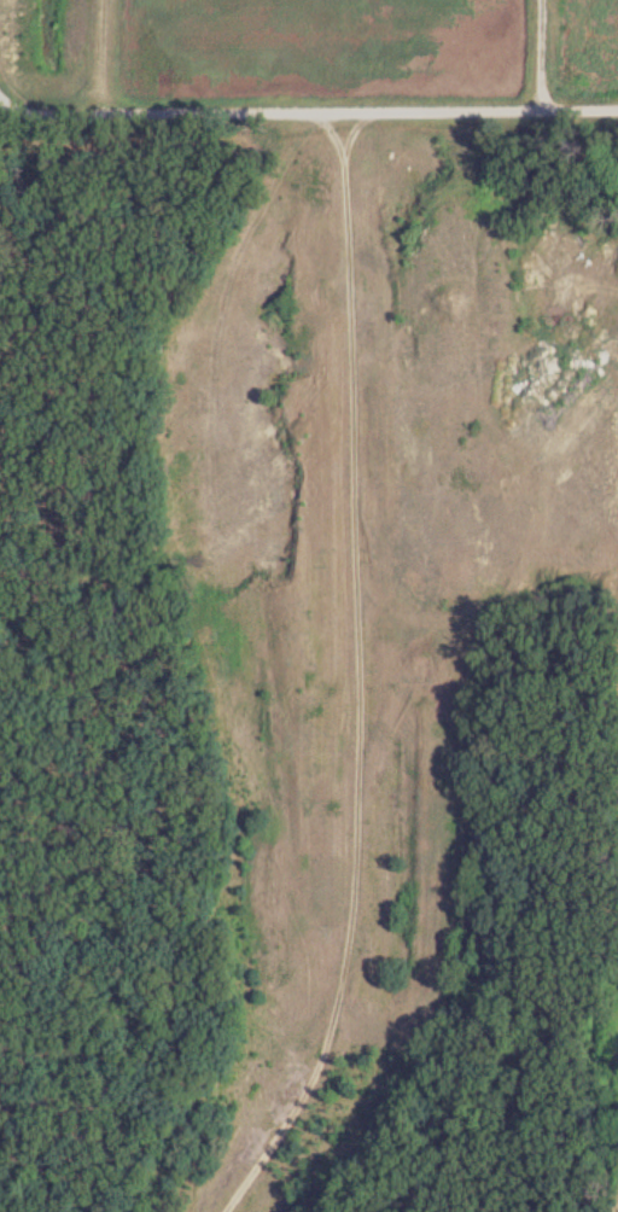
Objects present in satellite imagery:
wastewater plant: (583, 665)

